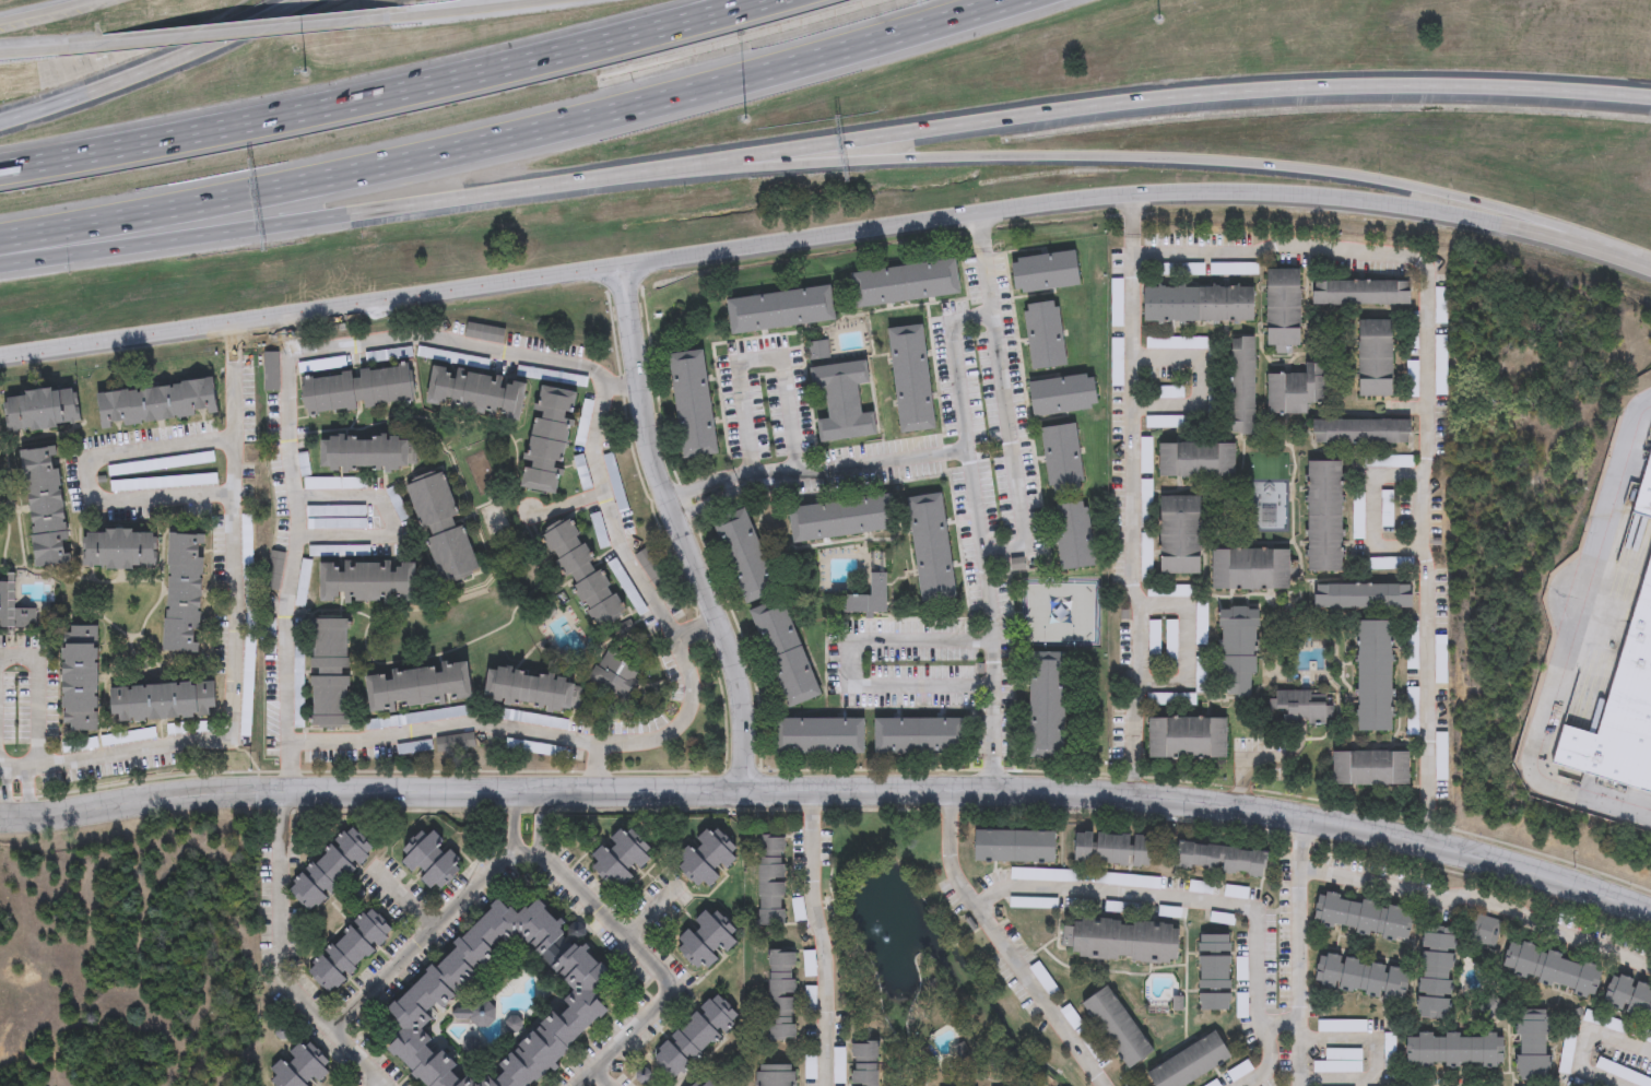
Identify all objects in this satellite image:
road: (483, 10)
road: (44, 12)
road: (257, 34)
road: (51, 50)
road: (153, 68)
road: (385, 94)
road: (1168, 95)
road: (509, 137)
road: (1137, 160)
road: (344, 213)
road: (827, 237)
building: (1045, 274)
building: (905, 286)
building: (1360, 293)
building: (1199, 304)
building: (1439, 305)
building: (1284, 310)
building: (780, 312)
building: (1410, 330)
building: (1043, 338)
building: (1376, 357)
road: (759, 362)
building: (1439, 364)
building: (1410, 378)
road: (1198, 380)
building: (911, 381)
road: (620, 382)
building: (1242, 386)
building: (1295, 390)
building: (359, 391)
road: (1004, 393)
building: (479, 394)
building: (1062, 397)
road: (1429, 401)
building: (841, 403)
building: (155, 404)
building: (692, 405)
building: (42, 411)
building: (1359, 432)
building: (549, 441)
building: (364, 453)
building: (1195, 460)
building: (1061, 461)
road: (817, 469)
road: (84, 475)
building: (616, 484)
building: (1646, 489)
road: (1133, 494)
building: (46, 508)
building: (1385, 508)
road: (1371, 511)
road: (235, 516)
building: (1323, 517)
road: (384, 518)
building: (841, 520)
building: (439, 529)
road: (680, 529)
road: (984, 535)
building: (1180, 535)
building: (1072, 539)
building: (121, 551)
road: (295, 551)
building: (931, 551)
building: (745, 558)
building: (1249, 569)
building: (585, 574)
building: (370, 583)
road: (646, 593)
building: (181, 594)
building: (1363, 597)
building: (865, 600)
building: (14, 612)
road: (696, 630)
road: (1183, 641)
road: (1562, 644)
building: (1238, 653)
building: (785, 656)
road: (848, 663)
building: (331, 675)
building: (1373, 676)
building: (614, 677)
building: (80, 680)
building: (421, 688)
building: (534, 693)
road: (34, 696)
building: (161, 704)
building: (1046, 707)
building: (1620, 707)
building: (1297, 709)
building: (919, 739)
building: (1187, 739)
building: (819, 740)
road: (126, 753)
road: (595, 766)
road: (1246, 769)
building: (1369, 769)
road: (832, 788)
road: (30, 791)
road: (3, 792)
road: (514, 822)
road: (542, 822)
building: (1017, 846)
building: (1115, 849)
building: (624, 859)
building: (708, 859)
building: (1222, 859)
building: (434, 861)
building: (332, 869)
building: (774, 881)
road: (1483, 897)
road: (1189, 900)
building: (1363, 917)
road: (432, 926)
building: (1485, 931)
road: (823, 936)
building: (707, 941)
building: (1119, 941)
road: (1004, 946)
building: (351, 949)
road: (1301, 951)
road: (285, 957)
building: (1550, 965)
road: (654, 967)
building: (1435, 971)
building: (1213, 973)
building: (1359, 976)
building: (783, 994)
building: (1628, 996)
building: (499, 1000)
building: (1120, 1027)
building: (697, 1037)
road: (1585, 1037)
building: (1532, 1046)
building: (1093, 1047)
building: (1458, 1050)
road: (1371, 1060)
building: (1340, 1062)
building: (1193, 1063)
building: (868, 1064)
building: (812, 1067)
building: (300, 1069)
building: (777, 1075)
road: (601, 1076)
road: (1251, 1076)
road: (380, 1083)
building: (708, 1083)
building: (1214, 1084)

